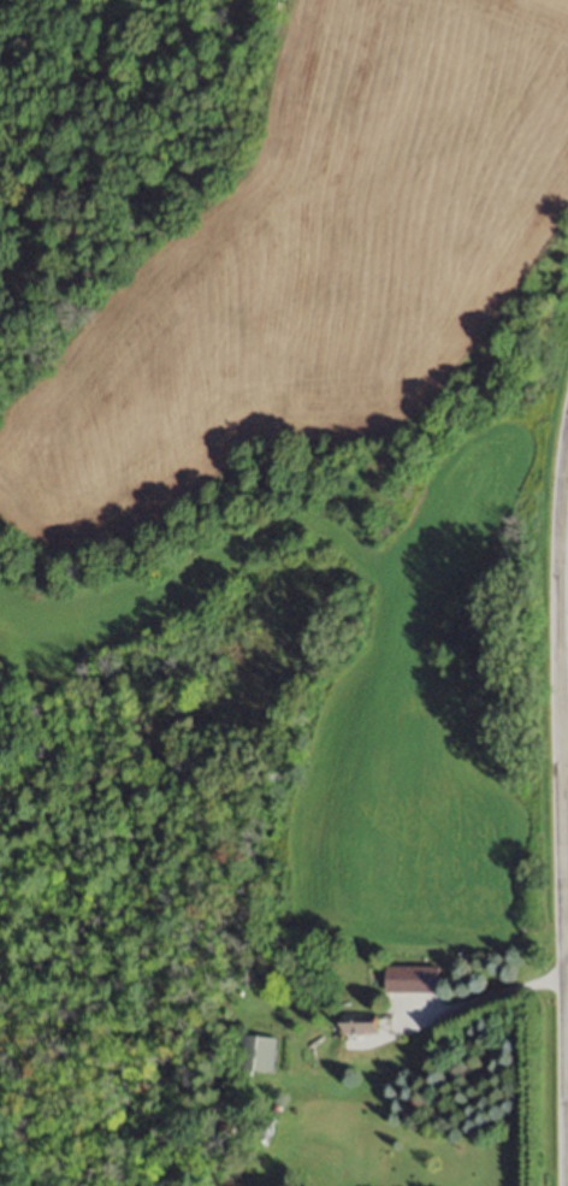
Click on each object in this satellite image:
road: (561, 802)
road: (566, 945)
building: (410, 978)
road: (479, 996)
building: (355, 1021)
building: (254, 1052)
building: (255, 1127)

